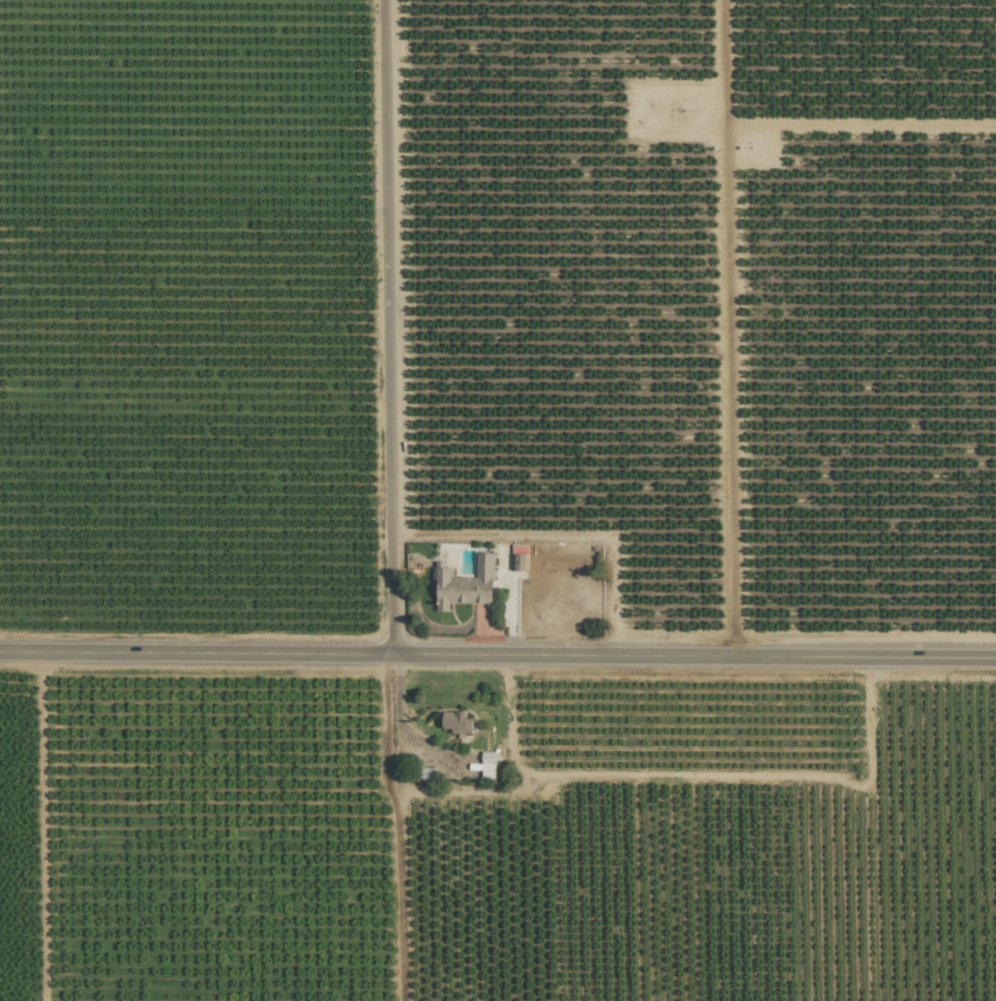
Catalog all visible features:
road: (386, 326)
road: (728, 327)
road: (561, 536)
building: (519, 562)
building: (464, 584)
road: (498, 653)
building: (456, 721)
road: (400, 733)
building: (487, 774)

